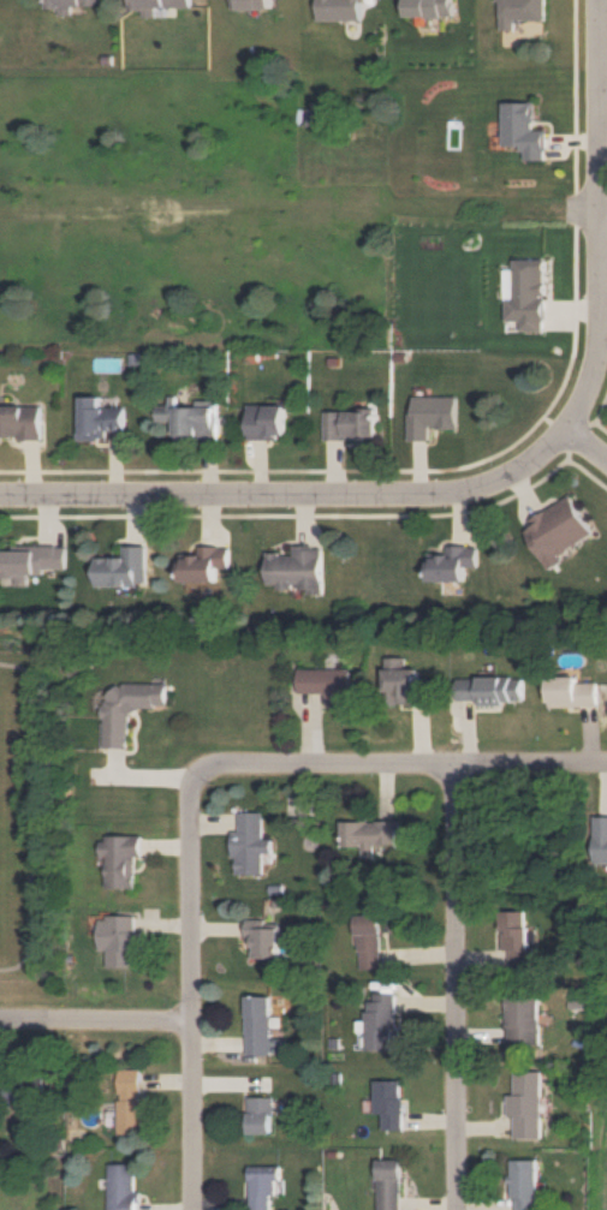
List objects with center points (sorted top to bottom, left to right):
building: (249, 4)
building: (70, 5)
building: (156, 5)
building: (428, 7)
building: (338, 10)
building: (519, 11)
building: (522, 130)
road: (298, 205)
building: (528, 294)
road: (599, 342)
building: (433, 415)
building: (99, 418)
building: (192, 419)
building: (267, 421)
building: (20, 422)
building: (351, 424)
road: (588, 447)
road: (171, 491)
building: (558, 531)
building: (32, 561)
building: (203, 564)
building: (453, 564)
building: (124, 567)
building: (297, 568)
building: (401, 678)
building: (327, 684)
building: (492, 690)
building: (571, 692)
building: (129, 707)
road: (400, 765)
building: (368, 834)
building: (600, 839)
building: (250, 844)
building: (120, 859)
building: (516, 936)
building: (264, 937)
building: (118, 940)
building: (368, 941)
road: (458, 988)
road: (195, 994)
building: (523, 1020)
road: (97, 1023)
building: (380, 1023)
building: (23, 1091)
building: (129, 1102)
building: (389, 1102)
building: (526, 1103)
building: (258, 1114)
building: (388, 1184)
building: (524, 1184)
building: (263, 1185)
building: (121, 1187)

